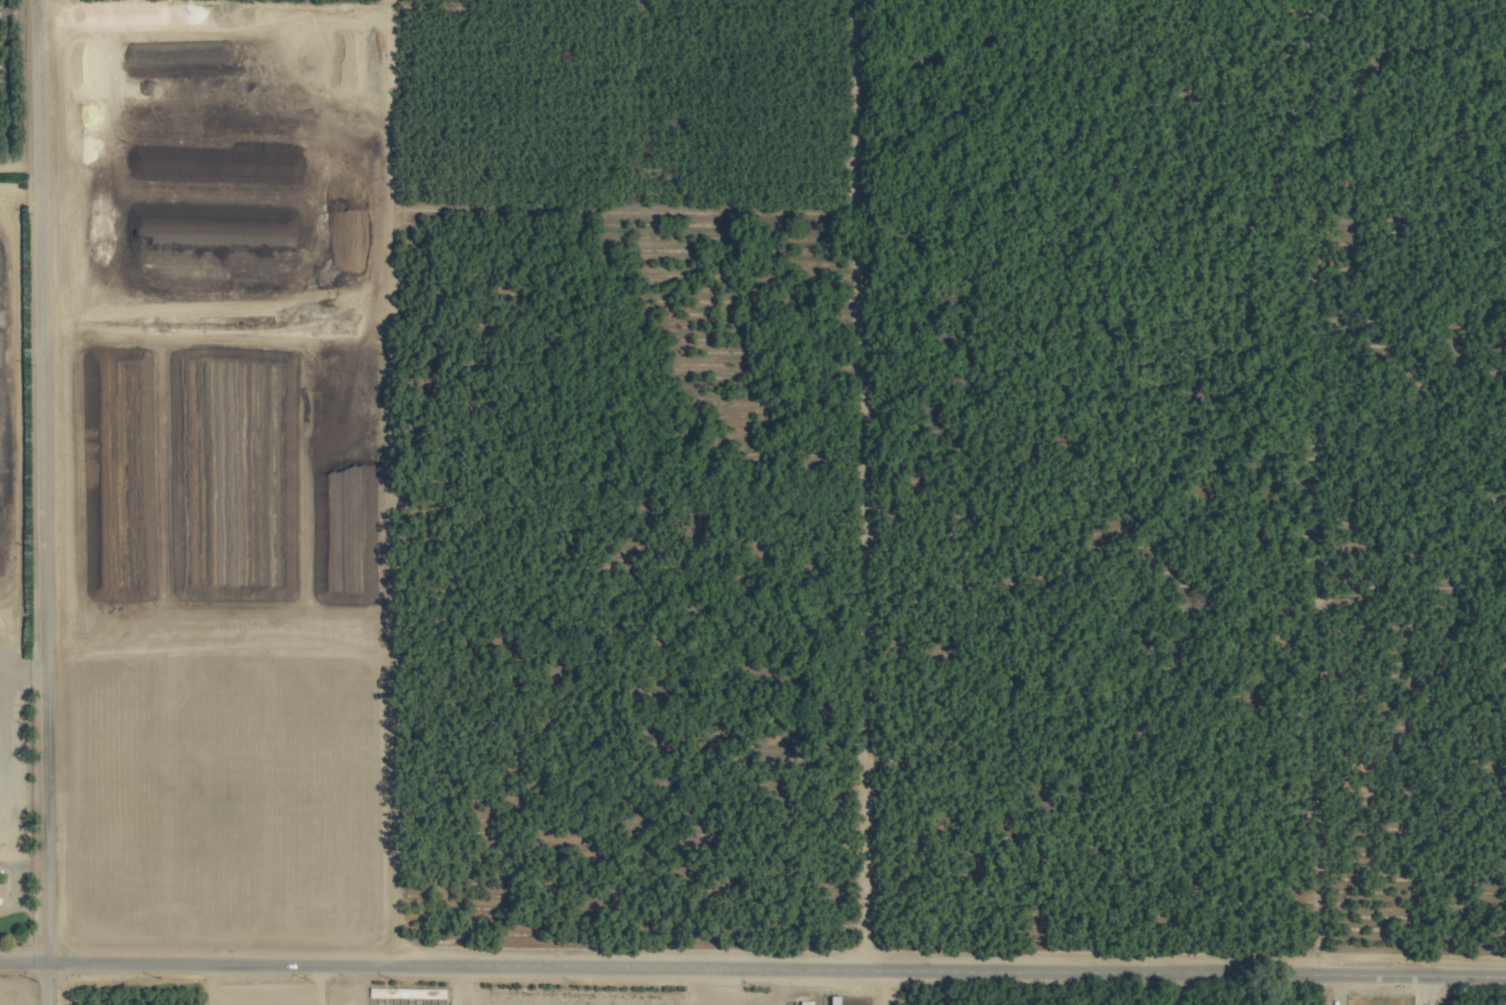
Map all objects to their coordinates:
road: (47, 502)
crop: (753, 502)
road: (24, 671)
building: (4, 889)
road: (752, 966)
building: (829, 1000)

